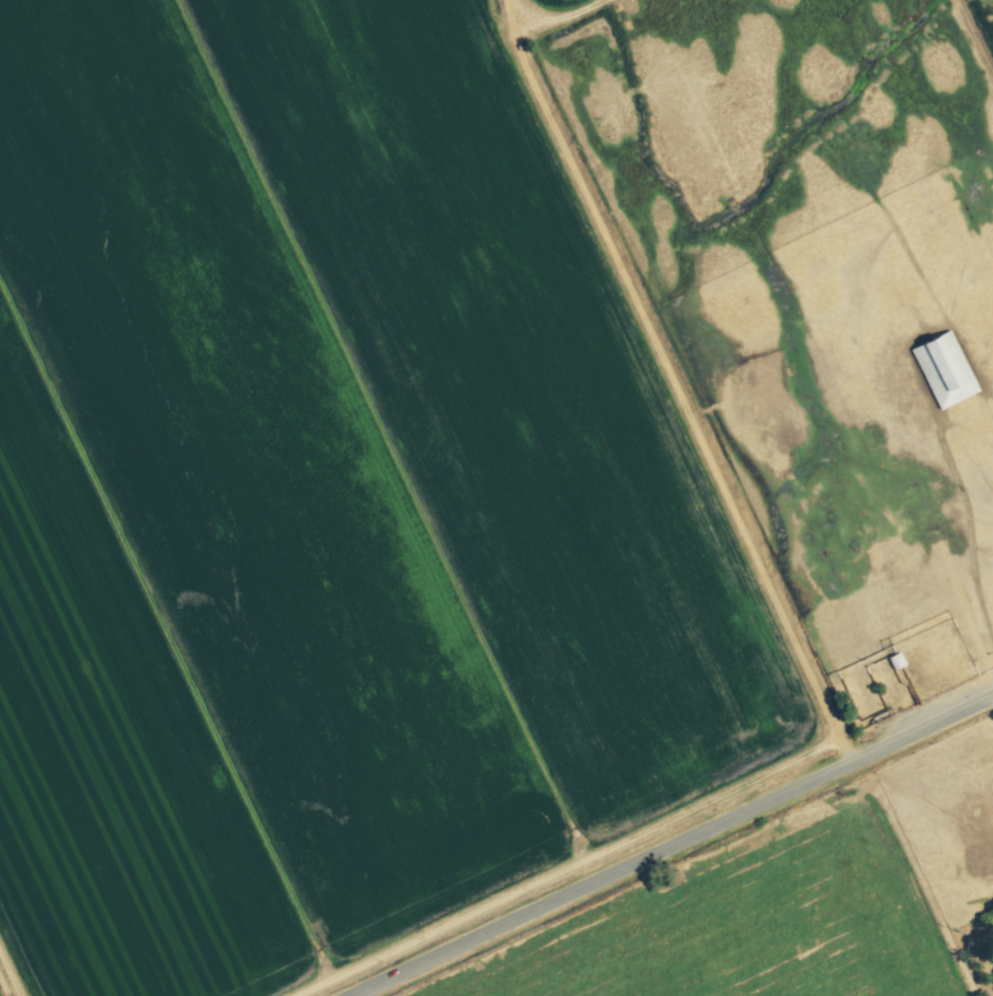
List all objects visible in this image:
building: (941, 369)
road: (673, 846)

